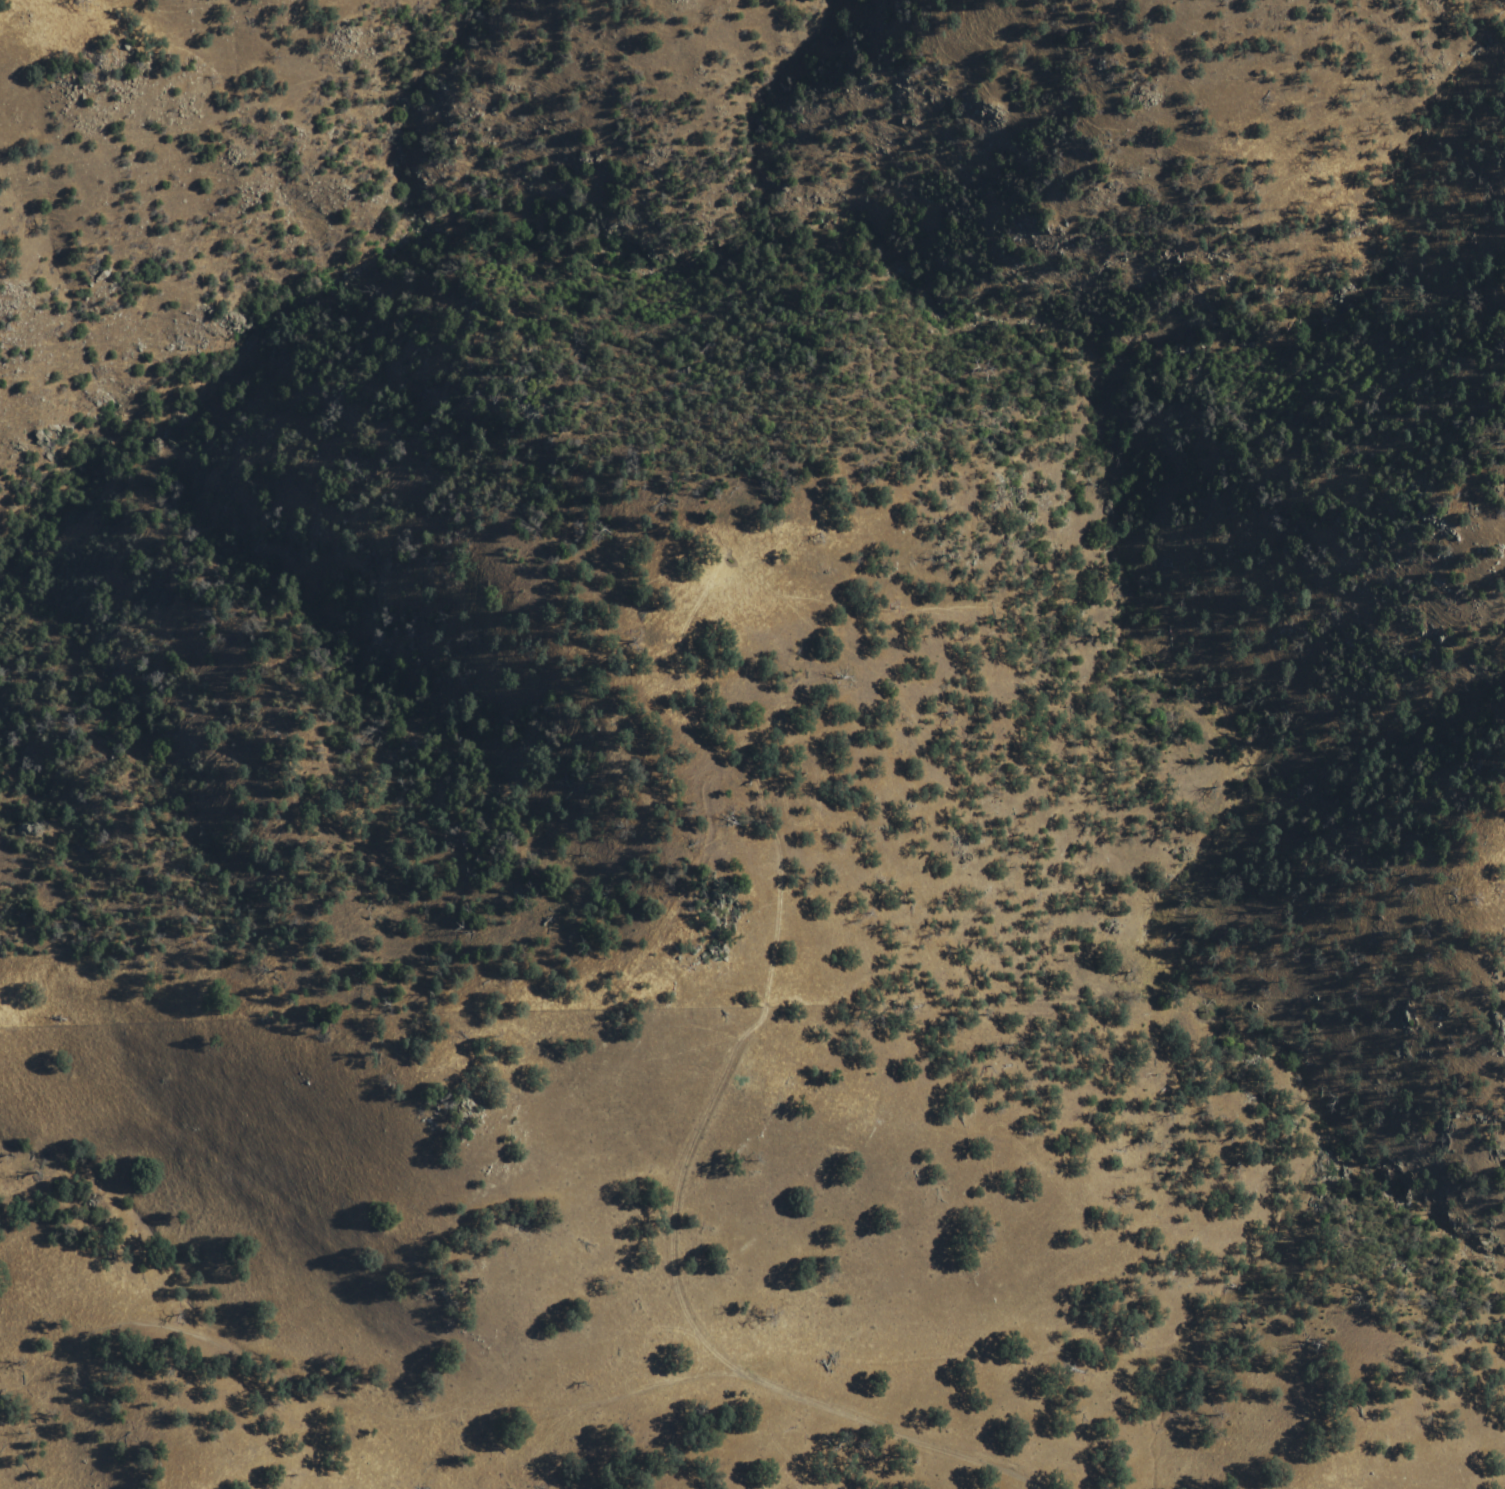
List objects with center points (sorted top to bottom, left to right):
road: (684, 1329)

